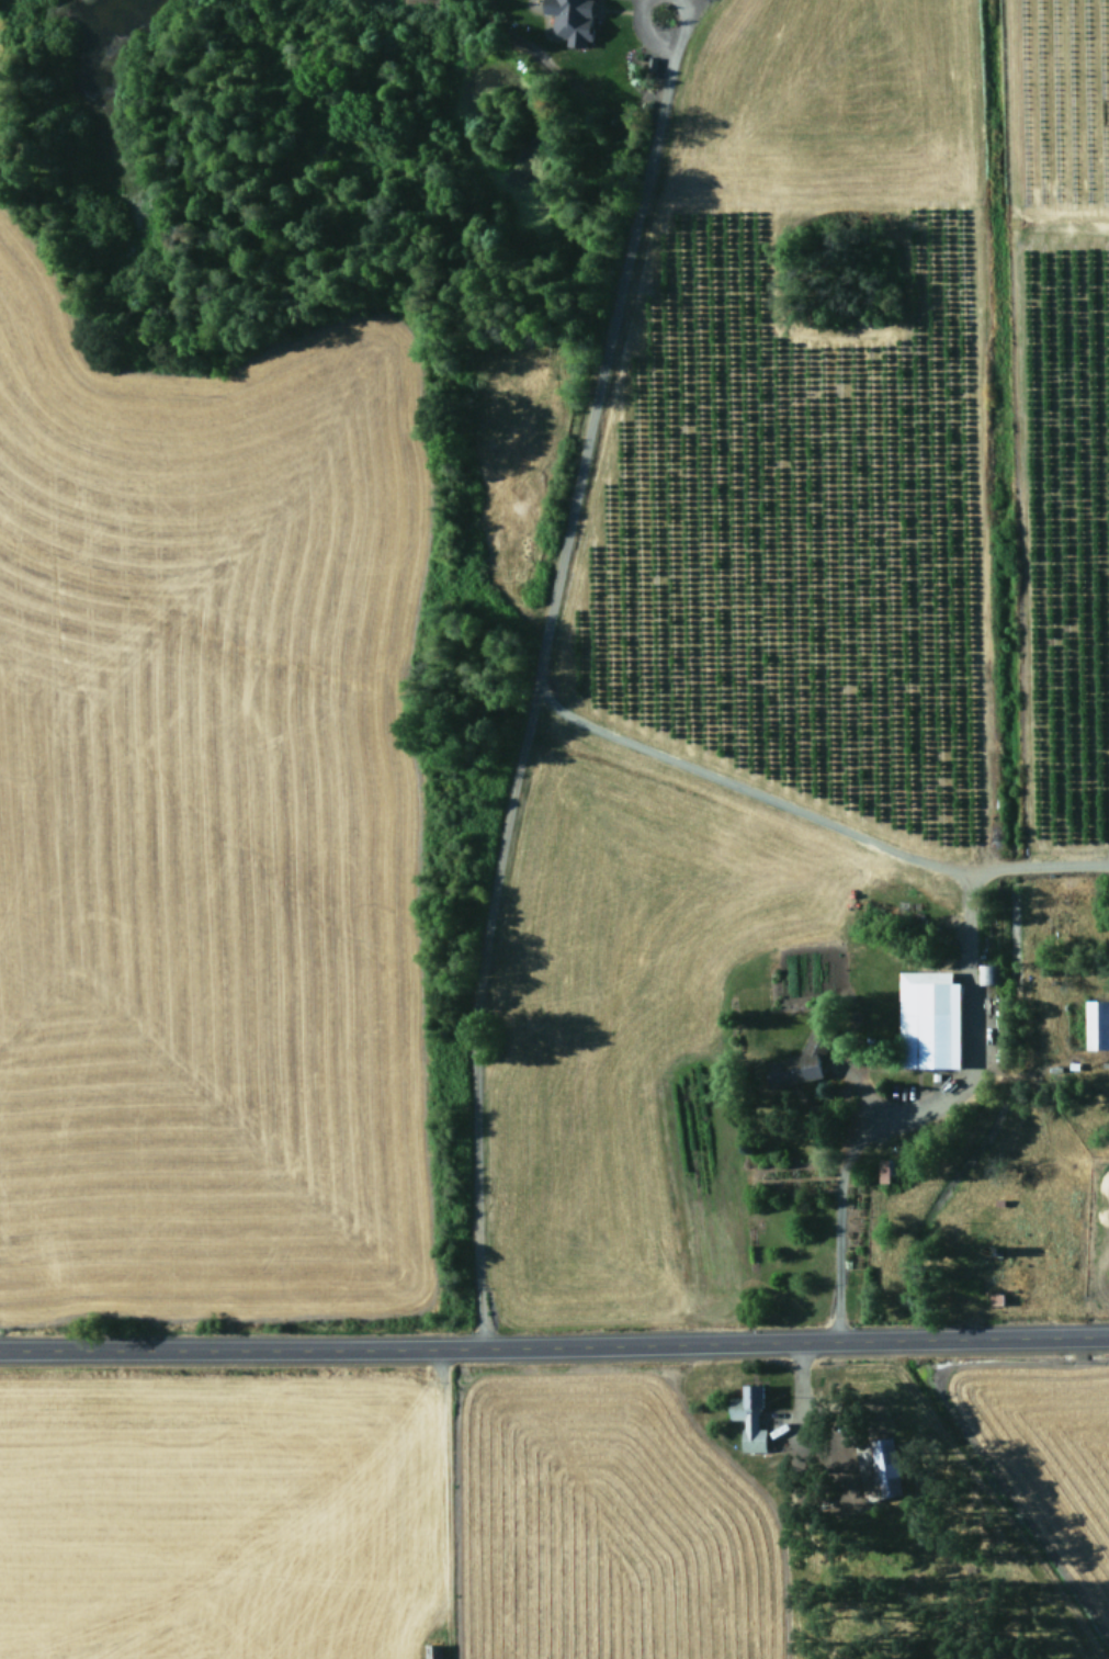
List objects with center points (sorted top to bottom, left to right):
road: (678, 27)
road: (632, 35)
road: (593, 377)
road: (807, 825)
crop: (554, 830)
building: (988, 974)
building: (926, 1019)
road: (468, 1020)
building: (1095, 1025)
building: (796, 1063)
road: (897, 1109)
building: (880, 1171)
building: (996, 1203)
building: (986, 1252)
building: (993, 1300)
road: (554, 1345)
building: (746, 1419)
building: (874, 1469)

